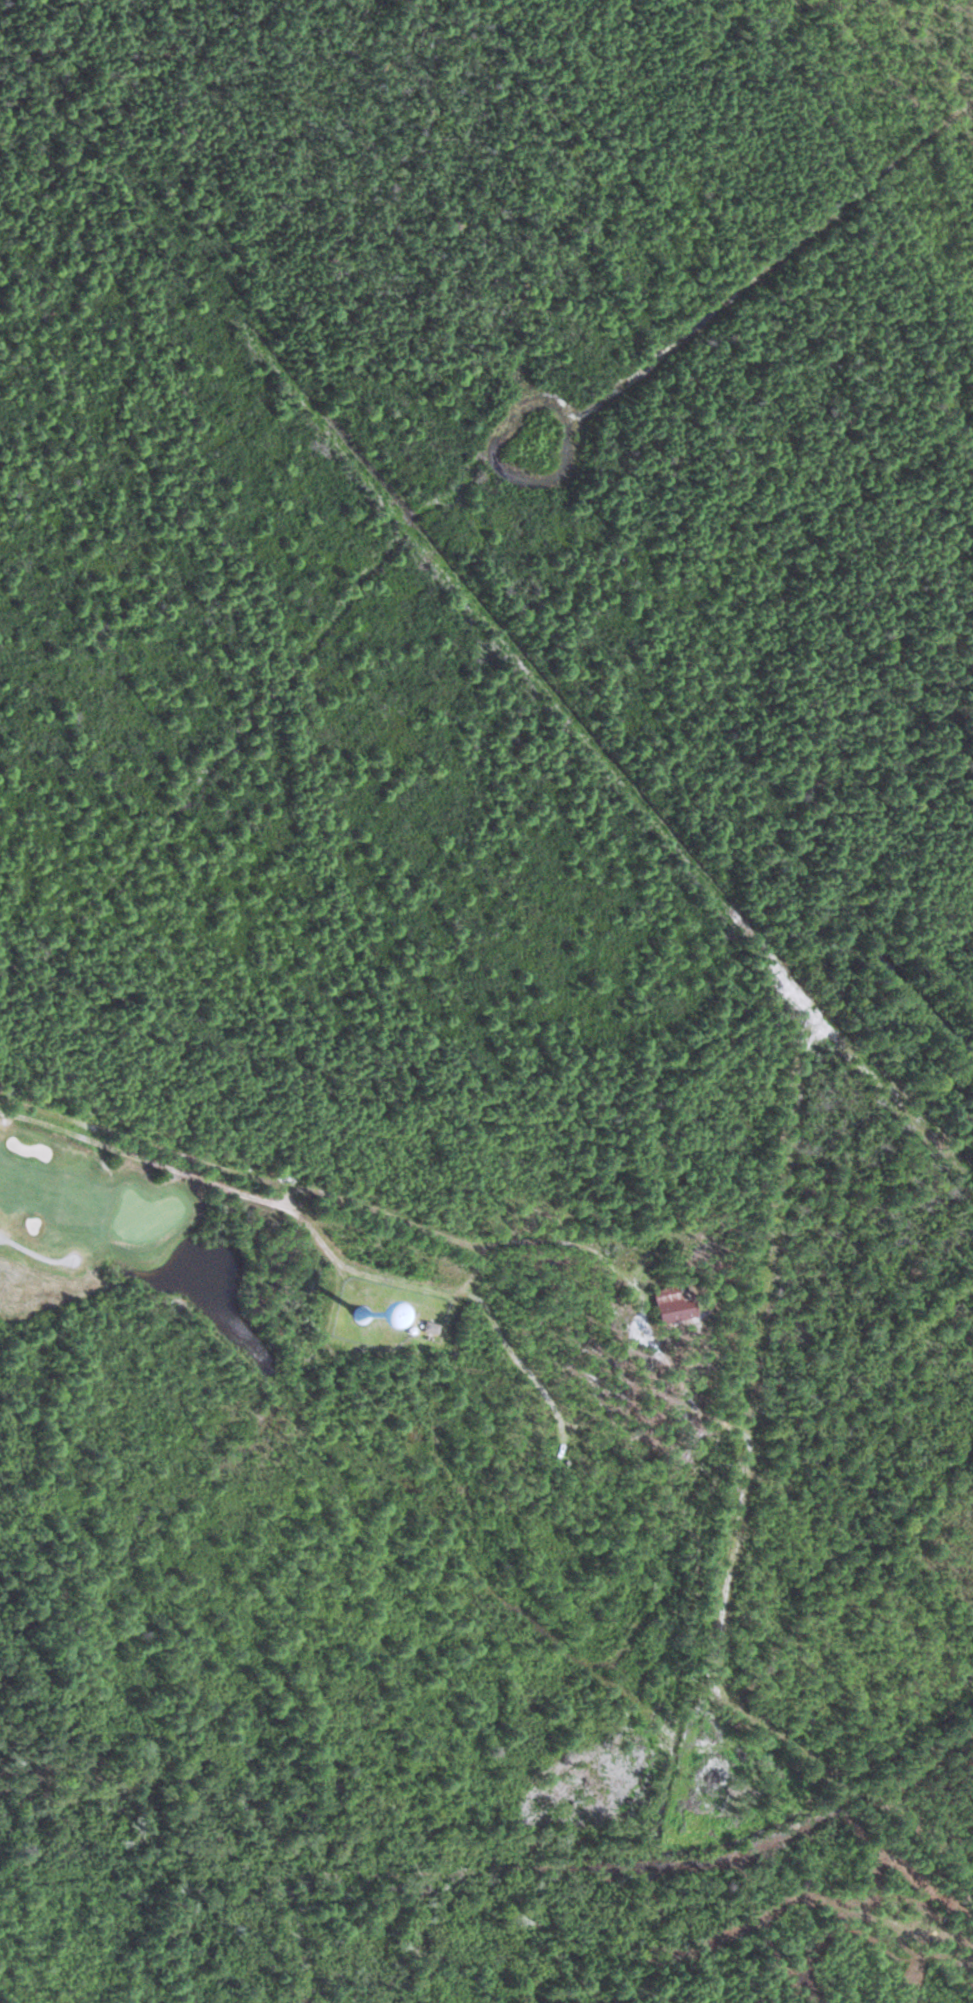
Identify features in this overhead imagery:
park: (76, 1201)
building: (673, 1303)
building: (360, 1320)

